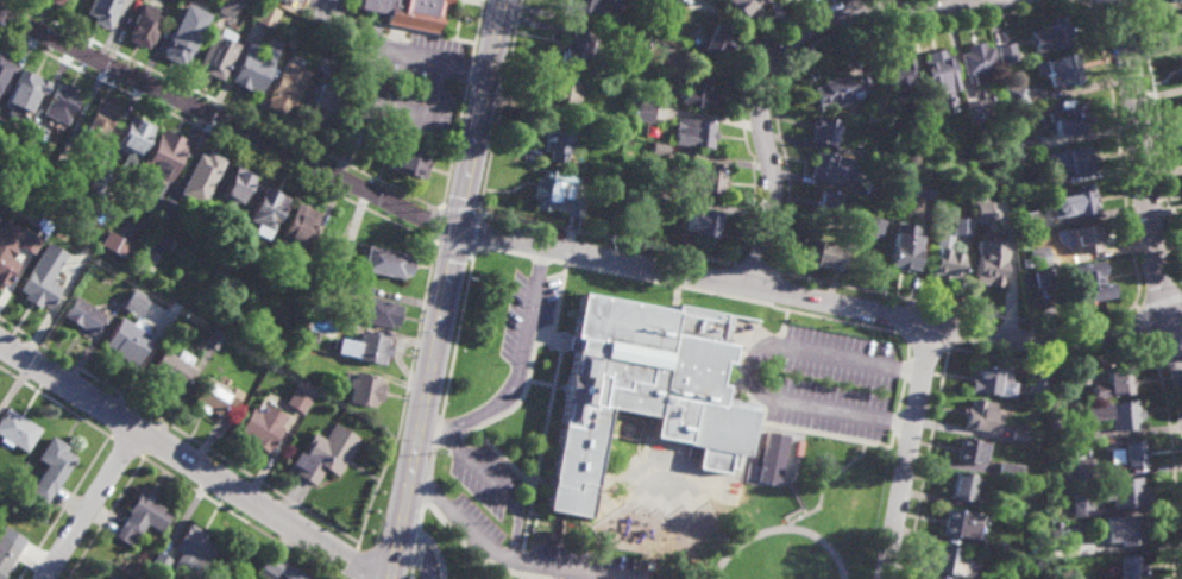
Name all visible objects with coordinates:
building: (673, 0)
building: (677, 0)
building: (1181, 0)
building: (54, 1)
road: (1083, 1)
building: (1168, 1)
building: (591, 7)
building: (743, 7)
building: (220, 8)
building: (101, 12)
building: (405, 12)
building: (264, 15)
building: (282, 25)
building: (144, 26)
building: (1175, 27)
road: (476, 31)
building: (1054, 34)
road: (828, 36)
building: (294, 40)
building: (716, 40)
building: (178, 44)
building: (576, 50)
road: (777, 54)
building: (1005, 54)
building: (215, 56)
building: (977, 63)
building: (321, 67)
building: (1178, 67)
building: (936, 69)
building: (4, 70)
building: (251, 70)
building: (1061, 70)
road: (469, 71)
building: (897, 80)
building: (284, 88)
building: (693, 90)
building: (837, 90)
building: (567, 92)
building: (25, 94)
building: (1014, 96)
building: (62, 103)
road: (224, 105)
road: (497, 106)
building: (320, 107)
building: (643, 111)
building: (885, 112)
building: (975, 112)
road: (742, 114)
building: (956, 115)
building: (1, 120)
building: (869, 120)
building: (1067, 120)
building: (98, 121)
road: (227, 124)
building: (650, 130)
building: (824, 130)
building: (694, 131)
road: (216, 134)
building: (350, 136)
building: (134, 138)
building: (557, 138)
building: (32, 140)
road: (1159, 141)
road: (454, 145)
building: (1026, 145)
building: (658, 147)
road: (1117, 151)
building: (165, 152)
building: (879, 157)
building: (1075, 158)
building: (410, 161)
building: (57, 166)
building: (832, 166)
building: (206, 170)
building: (705, 177)
building: (99, 182)
building: (237, 183)
building: (875, 187)
building: (924, 188)
building: (555, 193)
road: (1144, 193)
building: (654, 196)
building: (1077, 200)
building: (826, 202)
building: (172, 204)
building: (981, 208)
building: (268, 209)
road: (460, 209)
building: (702, 219)
building: (1027, 220)
road: (439, 221)
building: (206, 222)
traffic signals: (459, 224)
building: (961, 225)
building: (873, 226)
building: (298, 227)
road: (479, 229)
building: (1084, 237)
road: (604, 238)
road: (503, 240)
building: (31, 241)
road: (457, 241)
building: (117, 243)
building: (905, 245)
road: (542, 248)
building: (231, 252)
building: (829, 252)
building: (1038, 256)
building: (384, 260)
building: (947, 260)
building: (1026, 262)
building: (78, 265)
building: (7, 266)
building: (988, 266)
building: (226, 269)
building: (296, 273)
building: (347, 276)
road: (557, 276)
building: (1042, 276)
building: (1090, 279)
building: (346, 285)
building: (42, 288)
road: (446, 289)
road: (733, 290)
road: (821, 290)
building: (120, 292)
road: (1159, 302)
building: (134, 303)
building: (174, 303)
parking lot: (533, 304)
road: (1134, 307)
road: (955, 308)
building: (377, 310)
building: (165, 313)
building: (84, 316)
road: (1143, 328)
road: (459, 333)
road: (752, 334)
road: (932, 335)
road: (547, 336)
building: (214, 338)
road: (571, 339)
building: (128, 341)
building: (365, 344)
road: (1167, 345)
road: (1149, 352)
road: (535, 358)
road: (761, 360)
road: (1049, 360)
road: (517, 365)
building: (174, 367)
building: (645, 373)
road: (548, 375)
building: (1080, 375)
parking lot: (841, 376)
building: (989, 380)
building: (1037, 380)
building: (1114, 382)
building: (365, 389)
road: (753, 390)
road: (404, 394)
building: (216, 396)
building: (300, 397)
road: (905, 397)
road: (56, 404)
building: (1117, 414)
building: (980, 415)
road: (119, 418)
road: (549, 421)
road: (819, 424)
building: (263, 426)
road: (799, 428)
building: (17, 429)
road: (178, 432)
building: (1018, 432)
road: (436, 433)
building: (1071, 435)
road: (447, 439)
road: (152, 440)
road: (125, 448)
road: (917, 448)
building: (969, 451)
road: (513, 452)
building: (1127, 454)
building: (326, 455)
road: (433, 458)
building: (772, 458)
road: (930, 460)
road: (193, 464)
road: (1169, 465)
building: (52, 468)
building: (1081, 468)
road: (539, 470)
building: (1008, 470)
parking lot: (492, 472)
road: (609, 480)
road: (495, 486)
building: (963, 486)
road: (427, 489)
building: (1126, 492)
road: (822, 497)
building: (1079, 503)
road: (92, 504)
building: (999, 505)
road: (63, 508)
road: (422, 515)
parking lot: (480, 516)
building: (143, 517)
road: (235, 518)
road: (106, 520)
road: (532, 523)
building: (963, 525)
building: (1038, 525)
building: (1124, 530)
building: (1056, 539)
road: (415, 545)
road: (442, 546)
building: (195, 548)
track: (728, 552)
road: (422, 554)
building: (7, 555)
parking lot: (584, 555)
road: (514, 556)
building: (159, 562)
road: (353, 564)
building: (955, 564)
building: (1131, 567)
building: (278, 568)
road: (504, 569)
road: (410, 574)
building: (562, 575)
building: (1063, 575)
building: (111, 577)
road: (520, 577)
park: (728, 578)
building: (996, 578)

